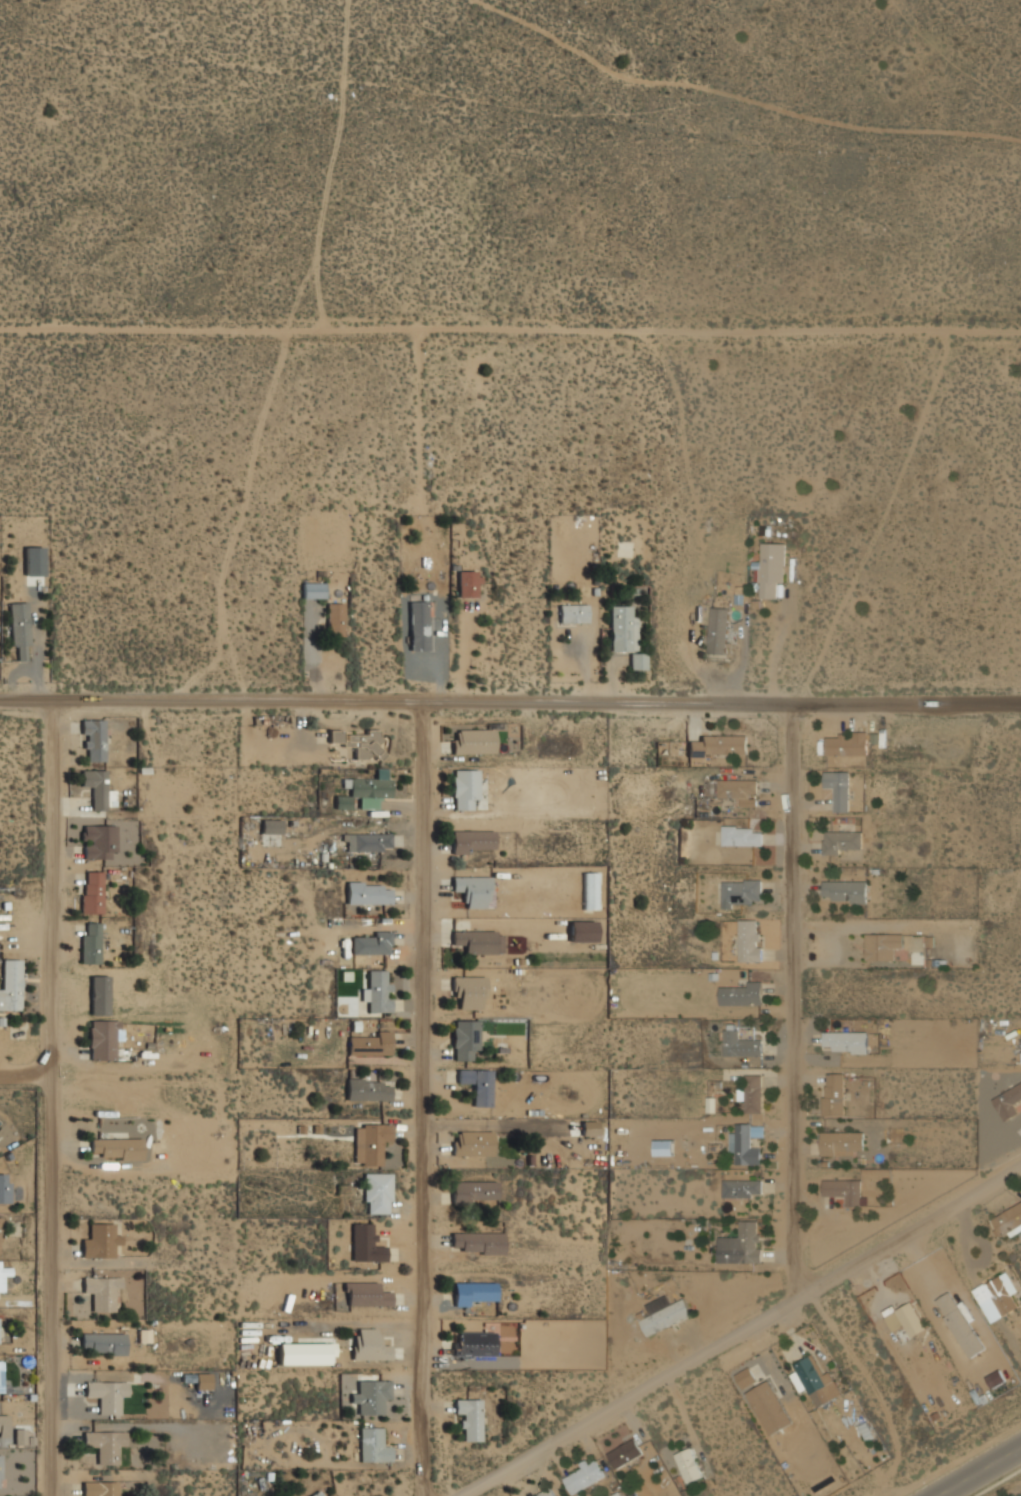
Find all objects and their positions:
road: (510, 329)
building: (771, 567)
building: (467, 584)
building: (312, 590)
building: (572, 612)
building: (334, 619)
building: (419, 623)
building: (19, 629)
building: (718, 630)
building: (625, 635)
road: (510, 703)
building: (92, 741)
building: (473, 741)
building: (360, 743)
building: (846, 743)
building: (717, 745)
building: (464, 787)
building: (97, 789)
building: (837, 789)
building: (738, 791)
building: (365, 792)
building: (271, 826)
building: (742, 836)
building: (98, 841)
building: (367, 842)
building: (473, 842)
building: (842, 842)
building: (474, 890)
building: (589, 891)
building: (844, 891)
building: (92, 892)
building: (740, 892)
building: (368, 893)
building: (582, 931)
building: (475, 941)
building: (750, 941)
building: (90, 942)
building: (371, 943)
building: (882, 947)
building: (11, 985)
building: (377, 991)
building: (469, 991)
building: (740, 994)
road: (793, 1003)
building: (468, 1037)
building: (102, 1040)
building: (845, 1042)
building: (369, 1043)
building: (741, 1044)
road: (24, 1079)
building: (476, 1085)
building: (368, 1089)
building: (751, 1094)
building: (833, 1094)
road: (48, 1098)
road: (425, 1099)
building: (1008, 1102)
building: (370, 1142)
building: (472, 1143)
building: (745, 1143)
building: (841, 1143)
building: (664, 1147)
building: (115, 1148)
building: (741, 1188)
building: (843, 1191)
building: (474, 1192)
building: (376, 1193)
building: (1007, 1221)
building: (99, 1241)
building: (365, 1243)
building: (476, 1243)
building: (741, 1244)
building: (5, 1283)
building: (102, 1292)
building: (474, 1293)
building: (364, 1294)
building: (996, 1297)
building: (665, 1317)
building: (906, 1318)
building: (959, 1325)
road: (741, 1331)
building: (103, 1343)
building: (368, 1345)
building: (474, 1345)
building: (303, 1353)
building: (745, 1377)
building: (813, 1379)
building: (106, 1395)
building: (371, 1395)
building: (769, 1407)
building: (469, 1418)
building: (3, 1425)
building: (18, 1436)
building: (104, 1444)
building: (373, 1446)
building: (624, 1454)
building: (689, 1465)
road: (982, 1472)
building: (583, 1476)
building: (99, 1488)
building: (546, 1493)
building: (317, 1494)
building: (330, 1495)

